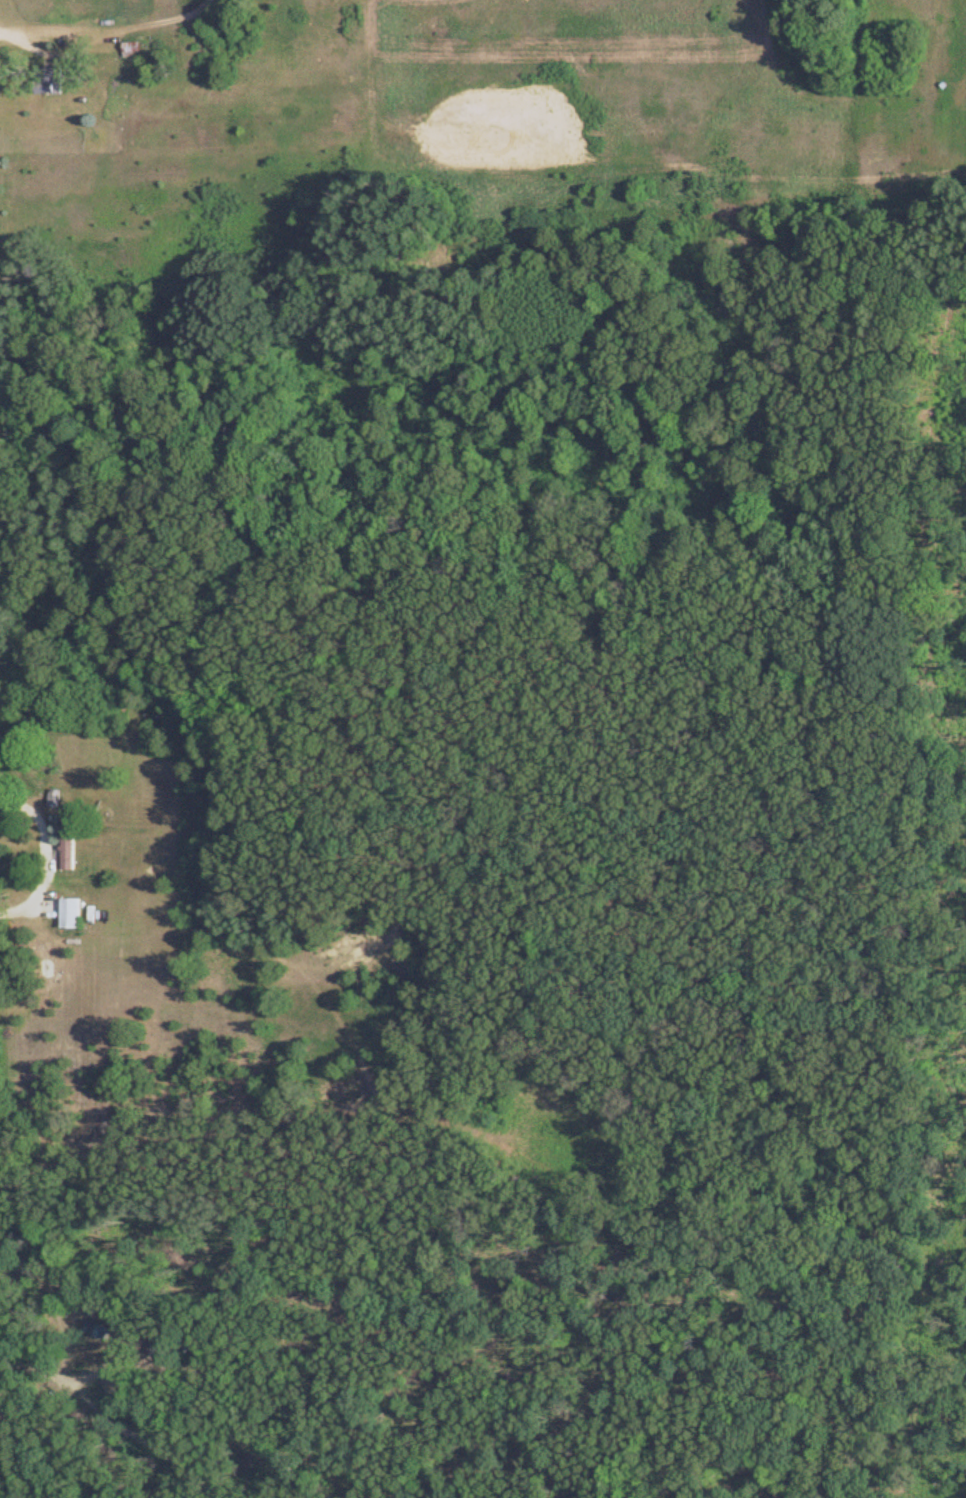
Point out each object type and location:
building: (42, 82)
building: (101, 1328)

